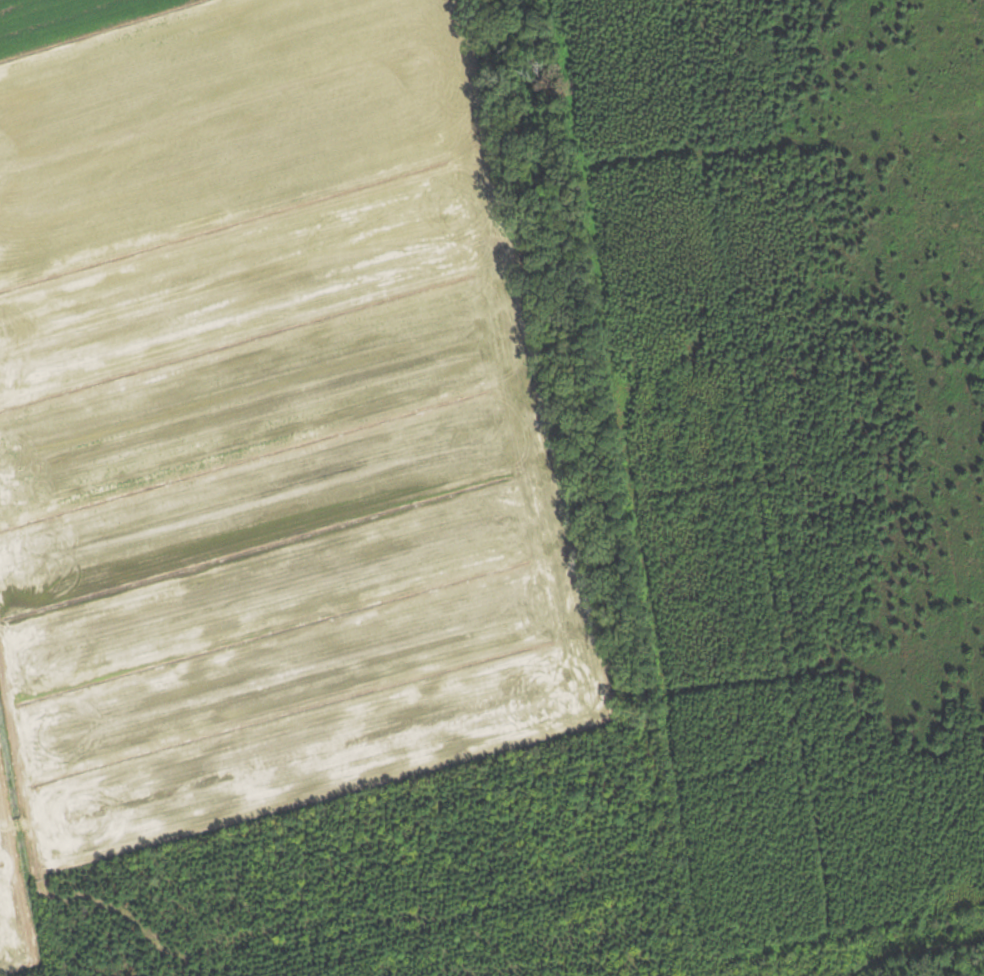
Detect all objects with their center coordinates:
road: (36, 773)

